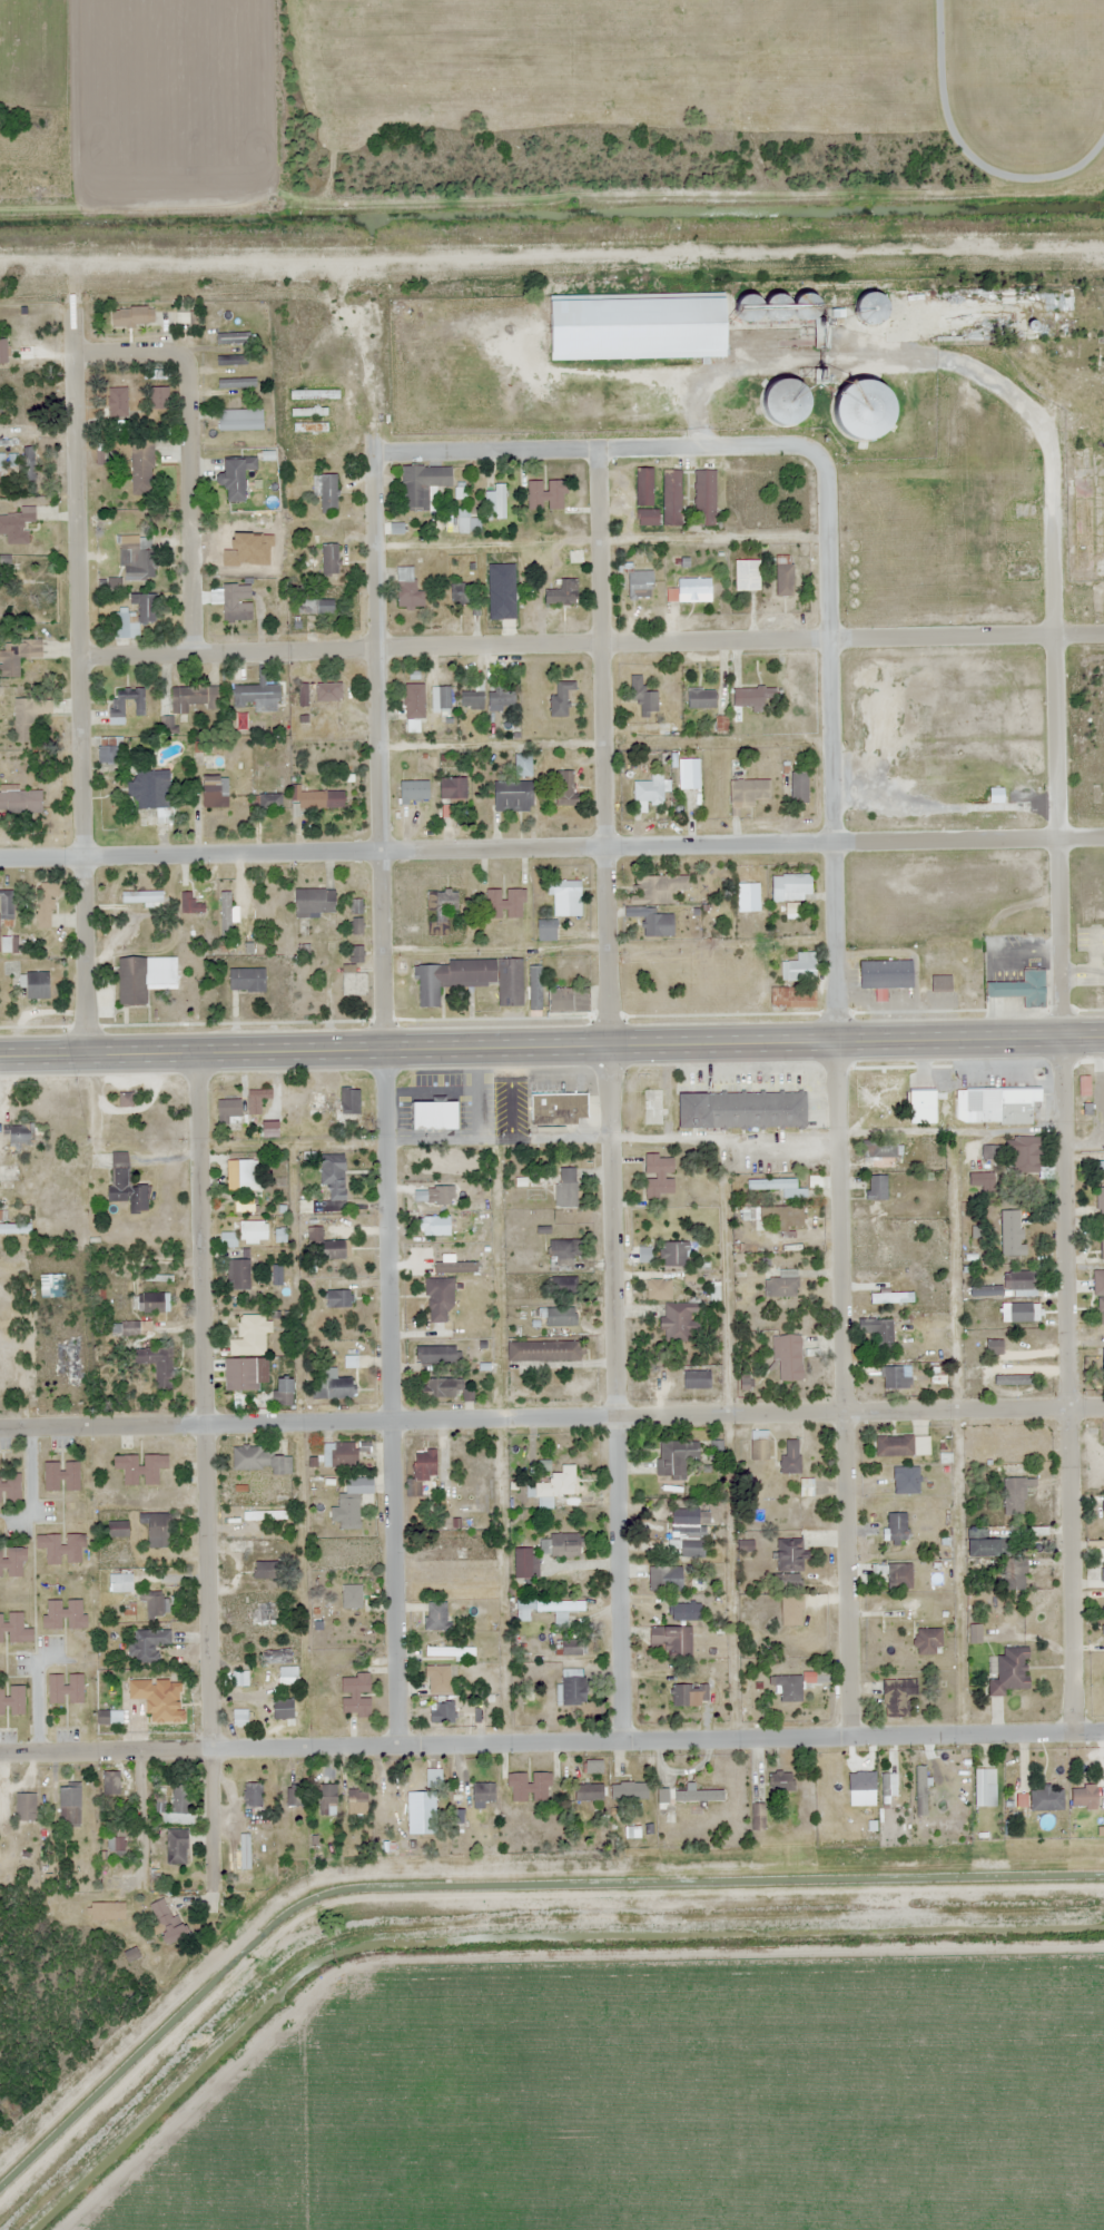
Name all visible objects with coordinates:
railway: (552, 271)
building: (875, 307)
building: (132, 317)
building: (186, 318)
building: (640, 328)
building: (231, 338)
road: (125, 350)
building: (3, 351)
building: (231, 361)
building: (155, 375)
building: (237, 384)
building: (315, 395)
building: (117, 402)
building: (790, 404)
building: (866, 411)
building: (309, 413)
building: (240, 421)
building: (310, 429)
road: (593, 446)
building: (142, 466)
building: (236, 479)
building: (422, 485)
building: (645, 488)
building: (328, 494)
building: (546, 495)
building: (672, 498)
building: (706, 498)
road: (189, 501)
building: (496, 501)
building: (648, 518)
building: (17, 527)
building: (236, 544)
building: (329, 560)
building: (136, 561)
building: (747, 576)
building: (785, 576)
building: (641, 584)
building: (502, 590)
building: (694, 590)
building: (408, 591)
building: (464, 593)
building: (563, 593)
building: (237, 602)
building: (316, 607)
building: (135, 619)
road: (590, 642)
building: (11, 664)
road: (77, 680)
building: (328, 692)
building: (257, 695)
building: (303, 696)
building: (755, 697)
building: (441, 698)
building: (644, 698)
building: (193, 699)
building: (502, 699)
building: (561, 699)
building: (701, 699)
building: (472, 700)
building: (414, 706)
building: (116, 708)
building: (24, 720)
building: (109, 751)
building: (522, 765)
building: (691, 769)
building: (799, 787)
building: (564, 788)
building: (453, 789)
building: (649, 789)
building: (215, 790)
building: (414, 792)
building: (750, 792)
building: (152, 793)
building: (997, 795)
building: (513, 796)
building: (321, 798)
building: (21, 800)
building: (268, 802)
road: (551, 846)
building: (659, 887)
building: (792, 887)
building: (141, 896)
building: (568, 898)
building: (315, 902)
building: (7, 903)
building: (505, 903)
building: (46, 904)
building: (190, 904)
building: (441, 910)
building: (657, 923)
building: (799, 967)
building: (886, 974)
building: (247, 980)
building: (470, 980)
building: (132, 981)
building: (355, 983)
building: (942, 983)
building: (38, 985)
building: (535, 986)
building: (1028, 989)
building: (793, 998)
building: (568, 999)
road: (551, 1044)
road: (1061, 1081)
building: (940, 1088)
road: (835, 1091)
building: (884, 1091)
road: (607, 1093)
road: (383, 1098)
building: (257, 1101)
building: (347, 1104)
building: (559, 1108)
building: (741, 1109)
building: (1004, 1109)
building: (480, 1110)
building: (229, 1111)
building: (435, 1114)
building: (272, 1129)
building: (18, 1138)
building: (880, 1149)
building: (989, 1152)
building: (1026, 1155)
building: (437, 1166)
building: (240, 1175)
building: (659, 1175)
building: (334, 1176)
building: (983, 1182)
building: (126, 1185)
building: (775, 1186)
building: (566, 1188)
building: (877, 1188)
building: (1102, 1199)
building: (778, 1221)
building: (433, 1226)
building: (14, 1229)
building: (254, 1231)
building: (1013, 1232)
building: (228, 1239)
building: (1102, 1239)
building: (326, 1246)
building: (674, 1254)
building: (563, 1255)
building: (239, 1274)
building: (1097, 1279)
building: (1021, 1284)
building: (782, 1285)
building: (52, 1286)
building: (338, 1298)
building: (440, 1300)
building: (152, 1303)
building: (677, 1309)
building: (1101, 1310)
building: (1021, 1313)
building: (561, 1316)
building: (879, 1332)
building: (250, 1336)
building: (543, 1350)
building: (435, 1355)
building: (789, 1357)
building: (67, 1364)
building: (1102, 1364)
building: (157, 1365)
building: (249, 1374)
building: (896, 1377)
building: (697, 1379)
building: (442, 1387)
building: (333, 1388)
building: (284, 1392)
road: (552, 1417)
building: (759, 1445)
building: (903, 1445)
building: (341, 1454)
building: (791, 1456)
building: (250, 1458)
building: (676, 1458)
building: (282, 1465)
building: (140, 1468)
road: (204, 1468)
building: (422, 1472)
building: (62, 1476)
building: (906, 1480)
building: (555, 1484)
building: (10, 1486)
building: (807, 1487)
building: (1016, 1495)
building: (896, 1510)
building: (1103, 1511)
building: (349, 1513)
building: (118, 1529)
building: (158, 1530)
building: (688, 1530)
building: (900, 1540)
building: (564, 1545)
building: (62, 1549)
building: (790, 1555)
building: (11, 1562)
building: (524, 1563)
building: (1103, 1564)
building: (264, 1570)
building: (1015, 1574)
building: (896, 1575)
building: (666, 1579)
building: (353, 1593)
building: (156, 1604)
building: (128, 1605)
building: (546, 1608)
building: (791, 1611)
building: (687, 1612)
building: (65, 1614)
building: (435, 1615)
building: (263, 1617)
building: (13, 1629)
building: (1103, 1635)
building: (671, 1639)
building: (928, 1641)
building: (148, 1646)
building: (571, 1648)
building: (450, 1652)
building: (277, 1657)
building: (658, 1666)
building: (1011, 1671)
building: (287, 1676)
building: (240, 1679)
building: (438, 1679)
building: (573, 1688)
building: (66, 1689)
building: (790, 1689)
building: (356, 1694)
building: (689, 1694)
building: (897, 1697)
building: (13, 1701)
building: (283, 1709)
building: (442, 1712)
building: (109, 1718)
building: (239, 1718)
building: (165, 1720)
road: (552, 1742)
building: (433, 1778)
building: (781, 1781)
building: (111, 1785)
building: (530, 1787)
building: (985, 1788)
building: (629, 1790)
building: (483, 1792)
building: (590, 1792)
building: (253, 1796)
building: (295, 1796)
building: (1084, 1796)
building: (679, 1797)
building: (1047, 1799)
building: (327, 1800)
building: (357, 1802)
building: (180, 1805)
building: (69, 1806)
building: (26, 1807)
building: (386, 1807)
building: (756, 1817)
building: (116, 1846)
building: (177, 1847)
building: (103, 1912)
building: (168, 1924)

